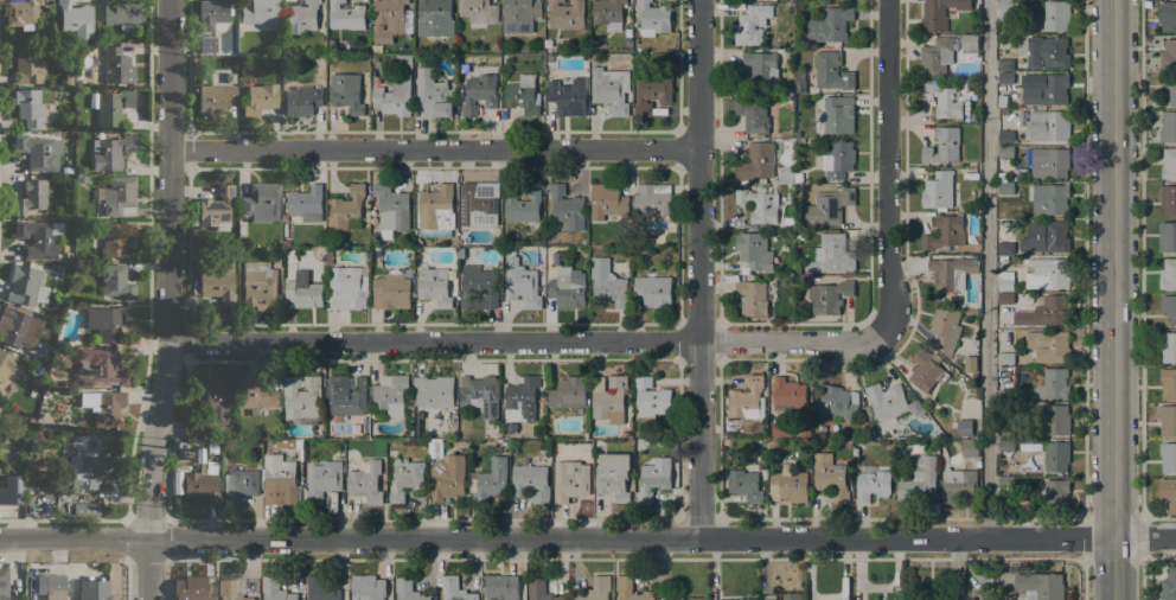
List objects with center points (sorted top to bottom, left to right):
building: (1005, 9)
building: (213, 11)
building: (260, 11)
building: (478, 11)
building: (123, 12)
building: (23, 13)
building: (608, 13)
building: (940, 13)
building: (567, 14)
building: (346, 15)
building: (520, 15)
building: (1055, 15)
building: (1167, 15)
building: (301, 17)
building: (435, 18)
building: (653, 18)
building: (76, 19)
building: (388, 19)
building: (752, 24)
building: (829, 25)
building: (970, 43)
building: (207, 44)
building: (408, 47)
building: (1047, 52)
building: (1168, 55)
building: (418, 57)
building: (592, 57)
building: (937, 57)
building: (550, 59)
building: (28, 64)
building: (1005, 64)
building: (117, 65)
building: (760, 70)
building: (831, 72)
building: (1004, 78)
building: (69, 79)
building: (800, 85)
building: (396, 90)
building: (611, 90)
building: (1048, 91)
building: (1169, 91)
building: (479, 92)
building: (433, 94)
building: (523, 94)
building: (651, 94)
building: (567, 96)
building: (260, 98)
building: (346, 98)
building: (215, 100)
building: (302, 100)
building: (944, 101)
building: (999, 102)
building: (1016, 102)
building: (113, 106)
building: (30, 107)
building: (1004, 111)
building: (752, 115)
building: (838, 115)
building: (1047, 126)
building: (1168, 127)
building: (1005, 136)
building: (66, 138)
building: (800, 140)
building: (942, 146)
road: (434, 151)
building: (1005, 151)
building: (38, 152)
building: (110, 152)
building: (838, 159)
building: (756, 162)
building: (1049, 162)
building: (1169, 164)
building: (82, 171)
road: (891, 172)
building: (785, 177)
building: (799, 178)
building: (1002, 178)
building: (82, 179)
building: (1005, 189)
building: (938, 191)
building: (32, 194)
building: (119, 196)
building: (652, 199)
building: (1049, 199)
building: (1168, 199)
building: (607, 200)
building: (261, 202)
building: (307, 204)
building: (759, 204)
building: (434, 205)
building: (479, 205)
building: (524, 205)
building: (347, 206)
building: (829, 206)
building: (216, 208)
building: (567, 208)
building: (961, 208)
building: (391, 210)
building: (944, 232)
building: (799, 235)
building: (461, 236)
building: (1167, 236)
building: (39, 237)
building: (1046, 237)
building: (116, 238)
building: (528, 240)
building: (97, 241)
building: (285, 242)
building: (1005, 248)
building: (754, 250)
building: (417, 251)
building: (461, 253)
building: (830, 255)
building: (556, 258)
road: (1084, 260)
road: (1140, 260)
building: (328, 261)
building: (581, 263)
road: (985, 268)
road: (698, 269)
building: (798, 270)
building: (548, 272)
building: (947, 273)
building: (1005, 274)
building: (1048, 274)
building: (1168, 274)
building: (117, 281)
building: (257, 282)
building: (607, 282)
building: (523, 285)
building: (1005, 285)
building: (26, 286)
building: (218, 286)
building: (434, 286)
building: (479, 287)
building: (346, 288)
building: (565, 289)
building: (391, 291)
building: (653, 291)
building: (303, 294)
building: (829, 296)
building: (752, 298)
building: (1005, 298)
road: (1112, 299)
road: (168, 300)
building: (1169, 308)
building: (1046, 312)
building: (55, 313)
building: (108, 321)
building: (14, 326)
building: (945, 328)
road: (531, 343)
building: (1048, 345)
building: (1168, 346)
building: (1006, 358)
building: (24, 360)
building: (5, 364)
building: (970, 364)
building: (104, 365)
building: (925, 369)
building: (36, 382)
building: (1168, 383)
building: (1053, 384)
building: (434, 391)
building: (257, 392)
building: (568, 392)
building: (390, 394)
building: (522, 394)
building: (346, 395)
building: (480, 395)
building: (1005, 395)
building: (215, 396)
building: (786, 396)
building: (651, 398)
building: (301, 400)
building: (611, 400)
building: (748, 400)
building: (886, 401)
building: (838, 402)
building: (0, 406)
building: (103, 406)
building: (868, 410)
building: (254, 411)
building: (363, 420)
building: (1167, 420)
building: (1054, 421)
building: (462, 426)
building: (511, 427)
building: (194, 428)
building: (965, 428)
building: (1005, 432)
building: (625, 434)
building: (726, 435)
building: (109, 442)
building: (673, 442)
building: (727, 442)
building: (933, 442)
building: (1005, 445)
building: (183, 446)
building: (292, 446)
building: (212, 447)
building: (435, 448)
building: (970, 448)
building: (340, 454)
building: (1056, 457)
building: (1168, 458)
building: (180, 464)
building: (210, 468)
building: (89, 471)
building: (613, 475)
building: (448, 477)
building: (830, 477)
building: (405, 478)
building: (654, 478)
building: (570, 479)
building: (280, 480)
building: (322, 480)
building: (488, 480)
building: (918, 480)
building: (531, 481)
building: (1005, 481)
building: (177, 483)
building: (365, 483)
building: (957, 484)
building: (239, 485)
building: (746, 485)
building: (873, 485)
building: (200, 486)
building: (790, 486)
building: (11, 490)
building: (1168, 492)
building: (1056, 494)
building: (85, 508)
road: (1034, 519)
road: (1158, 519)
road: (588, 538)
road: (1085, 538)
road: (1142, 538)
road: (1158, 558)
road: (1020, 560)
road: (955, 568)
road: (1142, 579)
road: (1085, 580)
building: (4, 583)
building: (1041, 585)
building: (1169, 585)
building: (51, 586)
building: (500, 586)
building: (192, 587)
building: (367, 587)
building: (275, 589)
building: (321, 589)
building: (408, 589)
building: (455, 589)
building: (596, 589)
building: (631, 589)
building: (94, 591)
building: (229, 591)
building: (539, 591)
building: (792, 596)
building: (768, 598)
building: (676, 599)
building: (697, 599)
building: (746, 599)

